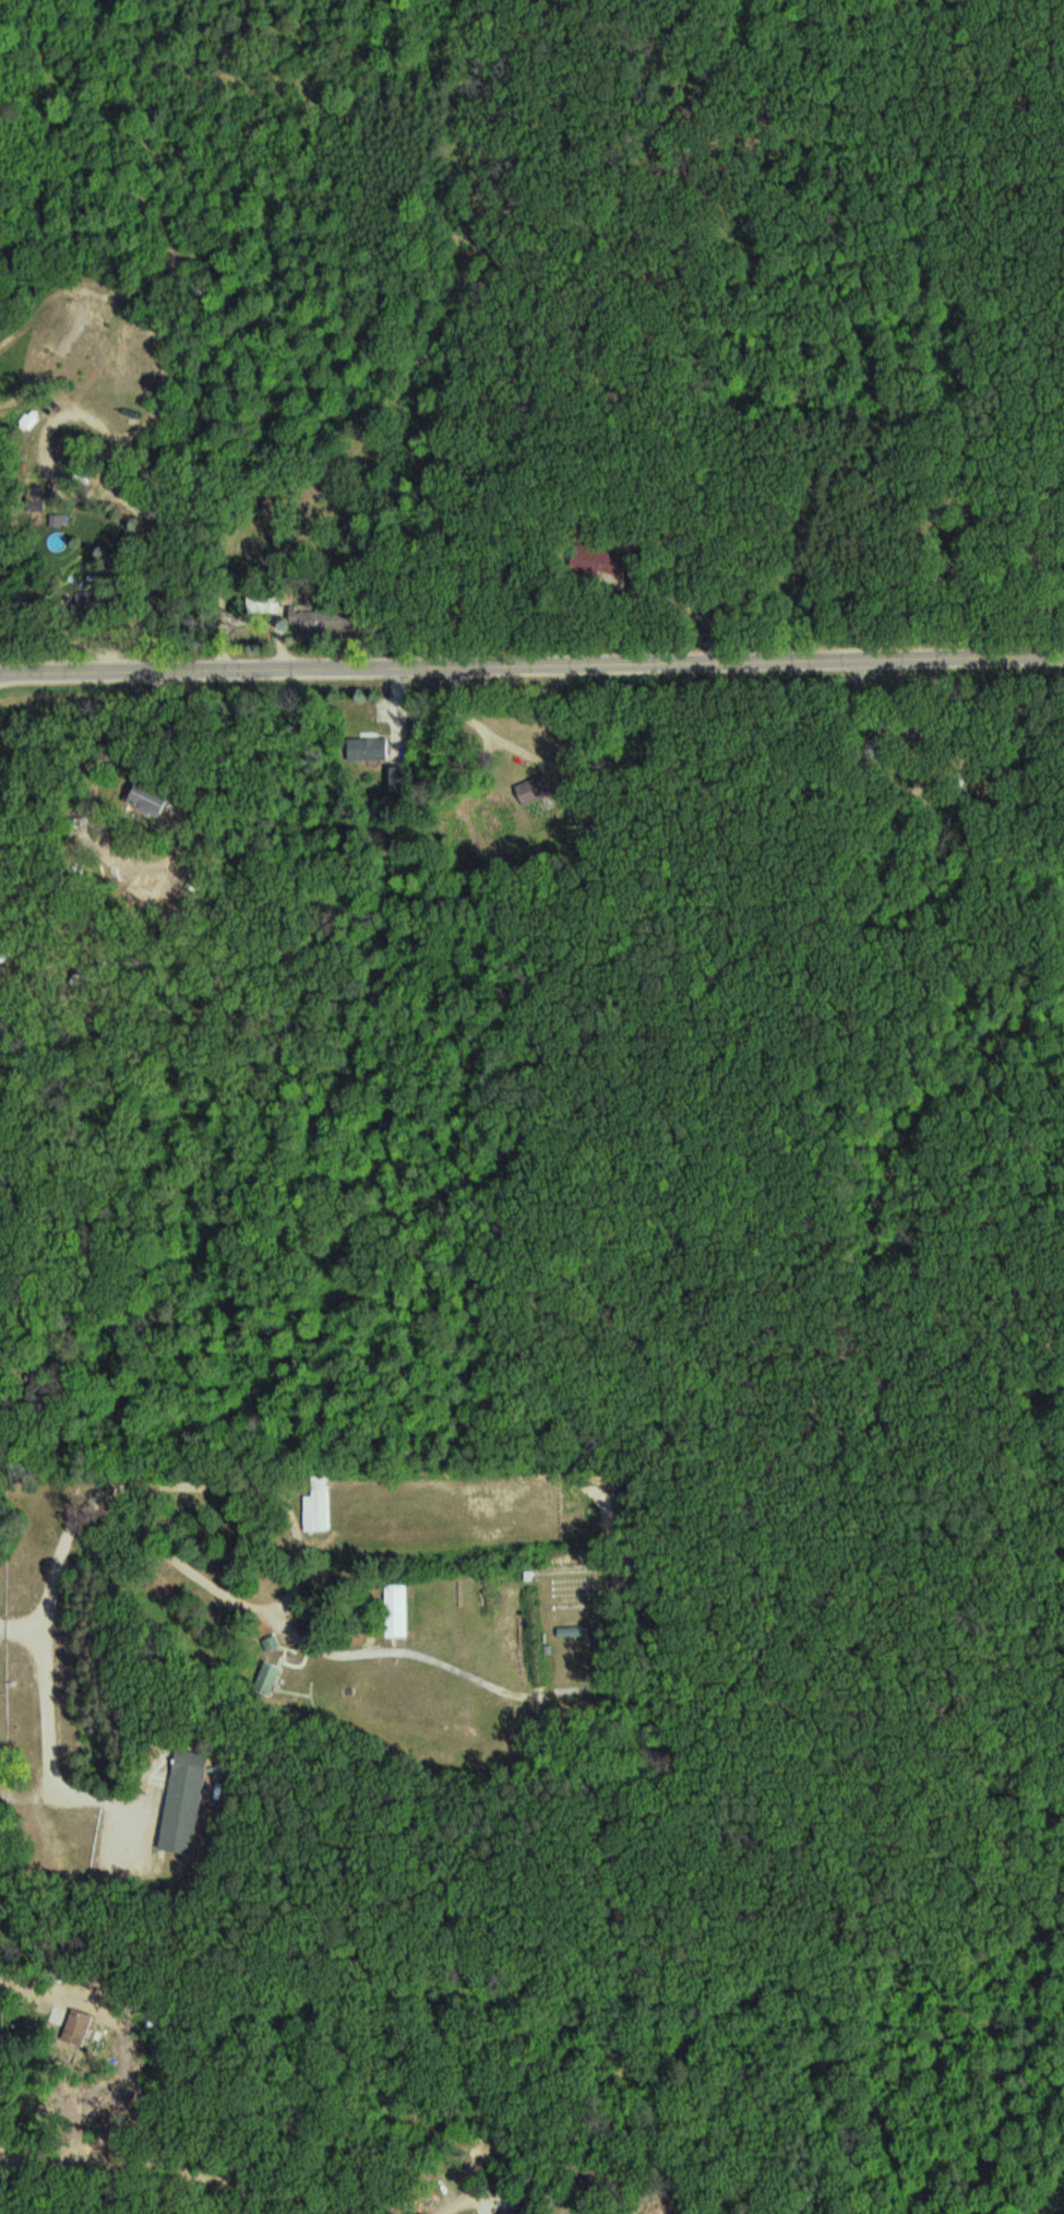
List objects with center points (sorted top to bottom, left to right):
building: (266, 604)
road: (531, 665)
building: (322, 1506)
building: (399, 1611)
building: (268, 1679)
building: (184, 1807)
building: (521, 2213)

